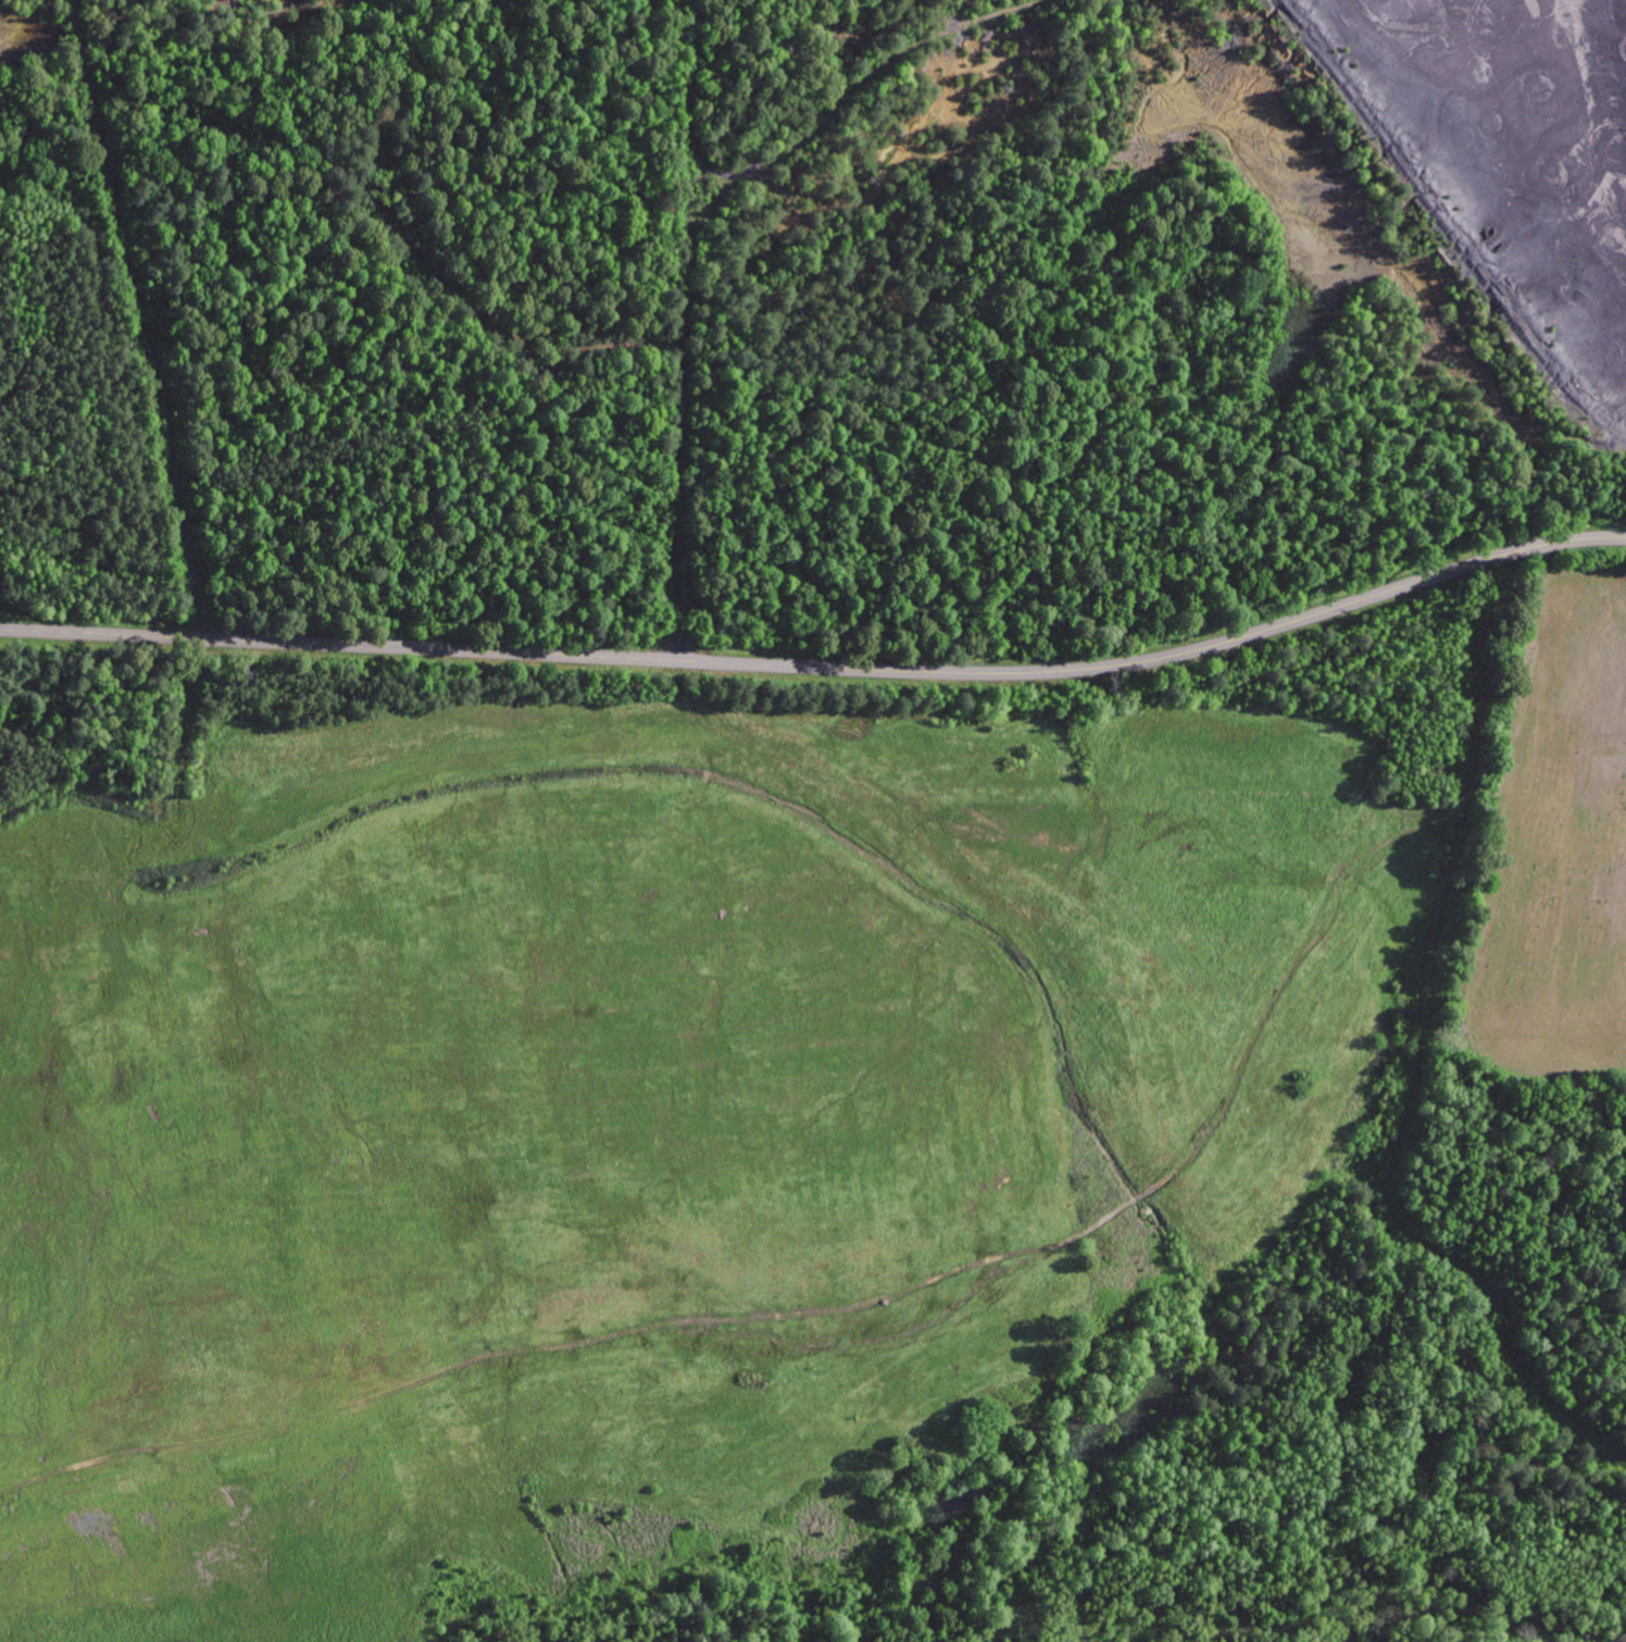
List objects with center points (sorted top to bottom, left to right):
road: (141, 319)
road: (681, 329)
road: (102, 634)
road: (924, 672)

